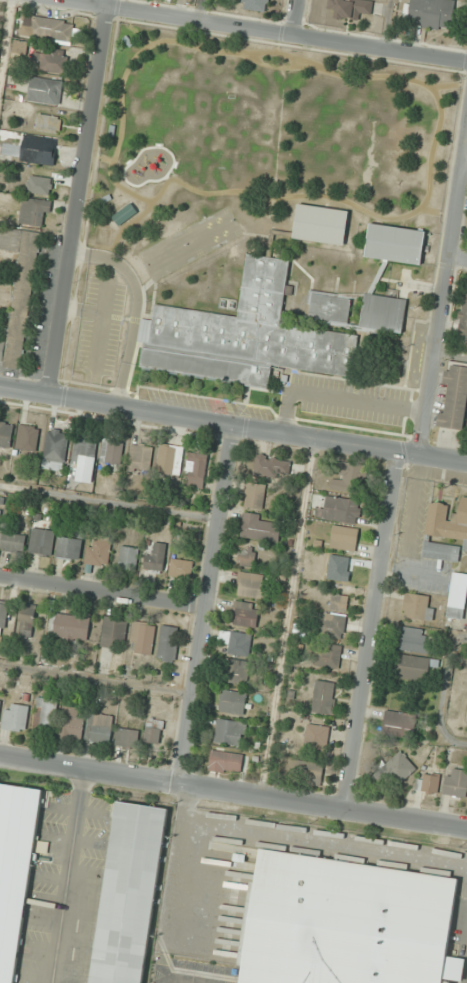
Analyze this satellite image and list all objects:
building: (255, 4)
building: (349, 8)
road: (199, 10)
building: (432, 12)
road: (293, 17)
road: (386, 24)
building: (50, 28)
road: (264, 30)
road: (5, 35)
building: (50, 59)
building: (45, 90)
building: (49, 122)
building: (39, 149)
building: (41, 184)
road: (78, 198)
building: (35, 212)
building: (125, 214)
building: (321, 224)
building: (395, 243)
road: (459, 259)
building: (19, 290)
road: (445, 298)
road: (137, 307)
building: (330, 307)
road: (83, 309)
building: (383, 313)
building: (463, 316)
road: (100, 326)
building: (246, 335)
road: (418, 353)
road: (340, 397)
building: (455, 397)
road: (233, 425)
building: (6, 434)
building: (27, 438)
building: (55, 449)
building: (112, 452)
building: (140, 457)
building: (170, 459)
building: (85, 460)
building: (272, 465)
building: (195, 473)
building: (349, 478)
building: (255, 495)
parking lot: (419, 506)
building: (339, 509)
building: (0, 512)
building: (260, 527)
building: (344, 538)
building: (42, 541)
building: (13, 542)
building: (71, 546)
building: (450, 549)
building: (98, 552)
building: (246, 557)
building: (128, 558)
building: (155, 559)
building: (181, 568)
building: (341, 568)
building: (251, 585)
road: (103, 591)
building: (339, 602)
road: (207, 605)
building: (418, 606)
building: (245, 614)
building: (3, 615)
building: (26, 620)
building: (332, 625)
building: (69, 626)
building: (114, 632)
road: (373, 632)
building: (142, 638)
building: (417, 640)
building: (237, 642)
building: (168, 643)
building: (328, 655)
building: (413, 667)
building: (238, 671)
building: (324, 697)
building: (0, 701)
building: (232, 702)
building: (46, 714)
building: (15, 717)
building: (72, 723)
building: (399, 724)
building: (102, 728)
building: (153, 731)
building: (229, 732)
building: (127, 737)
building: (316, 737)
building: (225, 762)
building: (398, 768)
building: (309, 772)
building: (456, 782)
building: (427, 783)
road: (233, 793)
building: (14, 869)
building: (129, 893)
building: (349, 924)

